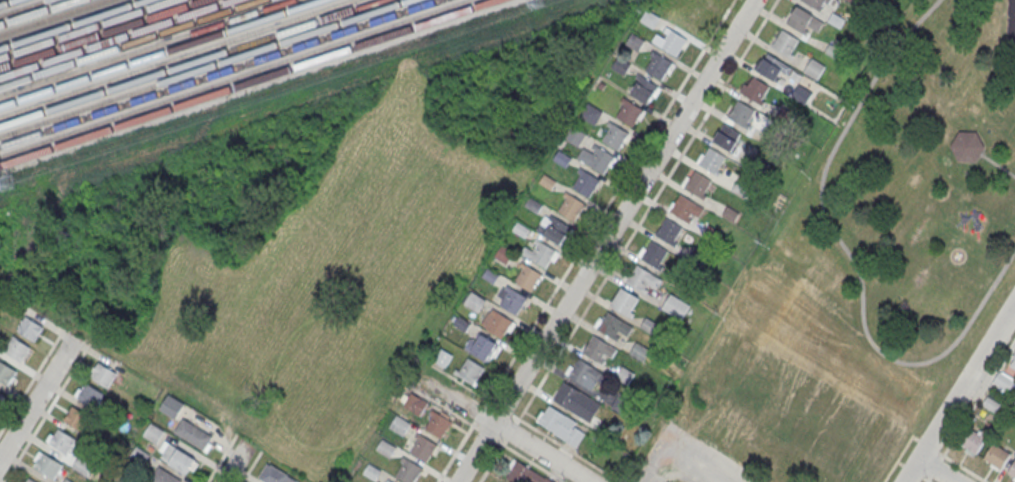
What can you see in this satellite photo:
railway: (6, 2)
power tower: (538, 3)
building: (814, 3)
railway: (20, 6)
railway: (34, 11)
railway: (51, 17)
building: (687, 18)
building: (798, 18)
building: (650, 19)
park: (1011, 20)
railway: (71, 23)
railway: (86, 28)
railway: (101, 33)
railway: (116, 38)
building: (634, 41)
building: (673, 42)
building: (785, 42)
railway: (131, 43)
railway: (145, 48)
railway: (160, 53)
railway: (174, 58)
railway: (188, 62)
building: (621, 65)
building: (658, 65)
building: (770, 66)
railway: (204, 68)
building: (814, 68)
railway: (218, 72)
railway: (233, 77)
railway: (247, 82)
building: (643, 89)
building: (755, 90)
building: (801, 94)
building: (629, 112)
building: (590, 113)
building: (741, 113)
building: (575, 135)
building: (614, 135)
building: (726, 136)
building: (967, 147)
building: (562, 158)
building: (600, 159)
building: (712, 159)
road: (997, 167)
building: (547, 181)
building: (585, 182)
power tower: (8, 183)
building: (697, 183)
building: (533, 204)
road: (608, 204)
building: (571, 206)
building: (682, 207)
road: (645, 210)
park: (895, 220)
building: (521, 230)
building: (557, 230)
building: (668, 230)
road: (603, 241)
building: (505, 253)
building: (539, 254)
building: (656, 256)
road: (847, 258)
building: (491, 274)
building: (528, 277)
building: (639, 277)
building: (511, 298)
building: (624, 300)
building: (474, 301)
road: (1014, 304)
building: (675, 306)
building: (462, 323)
building: (497, 323)
building: (610, 324)
building: (30, 329)
building: (484, 347)
building: (598, 348)
building: (17, 349)
building: (639, 350)
building: (443, 357)
building: (1013, 364)
building: (470, 370)
building: (6, 373)
building: (584, 373)
building: (103, 374)
road: (32, 380)
building: (1004, 381)
road: (461, 388)
road: (959, 392)
building: (0, 395)
building: (90, 395)
road: (37, 397)
road: (976, 399)
building: (577, 401)
building: (415, 403)
building: (172, 406)
road: (446, 408)
road: (501, 410)
road: (46, 412)
road: (479, 413)
building: (77, 418)
building: (399, 424)
building: (438, 424)
building: (562, 424)
road: (502, 429)
road: (510, 431)
building: (153, 432)
building: (193, 433)
road: (487, 434)
road: (916, 436)
building: (64, 440)
building: (974, 440)
road: (928, 444)
road: (565, 447)
building: (386, 448)
building: (423, 448)
road: (455, 450)
building: (996, 454)
building: (176, 457)
road: (220, 458)
road: (898, 458)
road: (490, 460)
road: (530, 461)
road: (901, 461)
road: (235, 463)
building: (47, 465)
building: (82, 466)
road: (250, 466)
road: (963, 466)
road: (935, 468)
road: (913, 469)
building: (1012, 469)
road: (937, 470)
building: (372, 471)
building: (409, 471)
building: (525, 473)
building: (275, 475)
building: (163, 476)
road: (928, 478)
road: (928, 479)
building: (30, 480)
building: (67, 480)
building: (390, 481)

